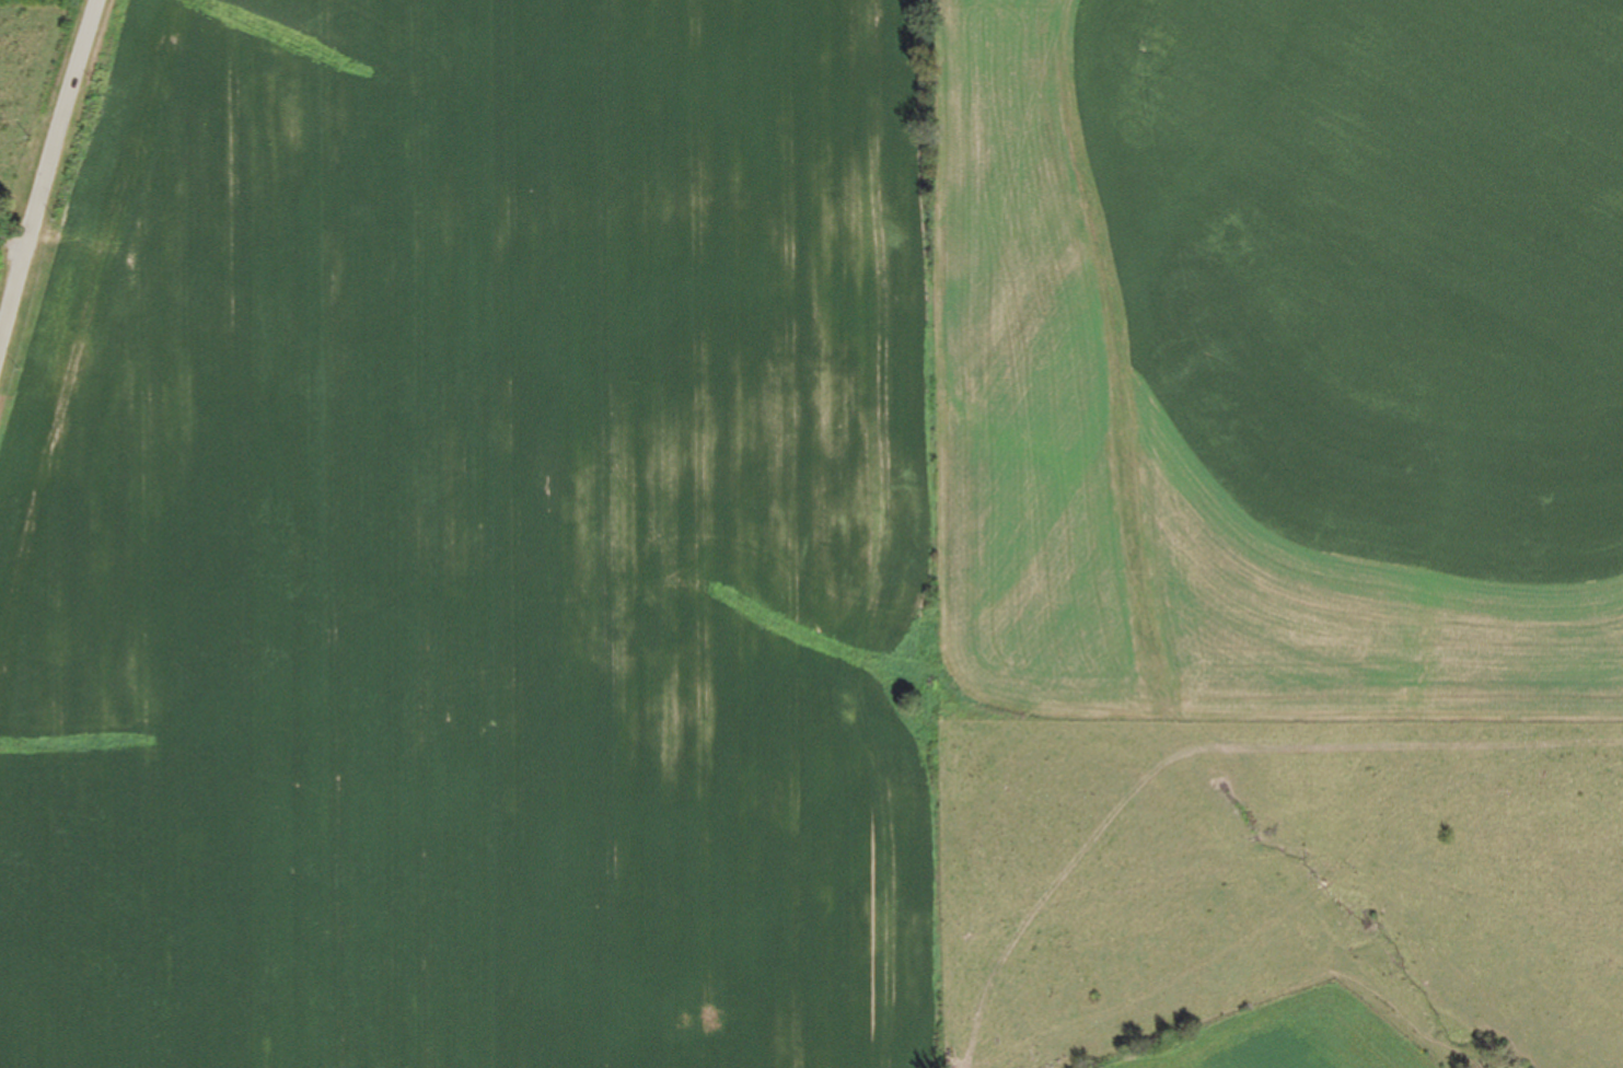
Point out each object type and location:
road: (48, 166)

